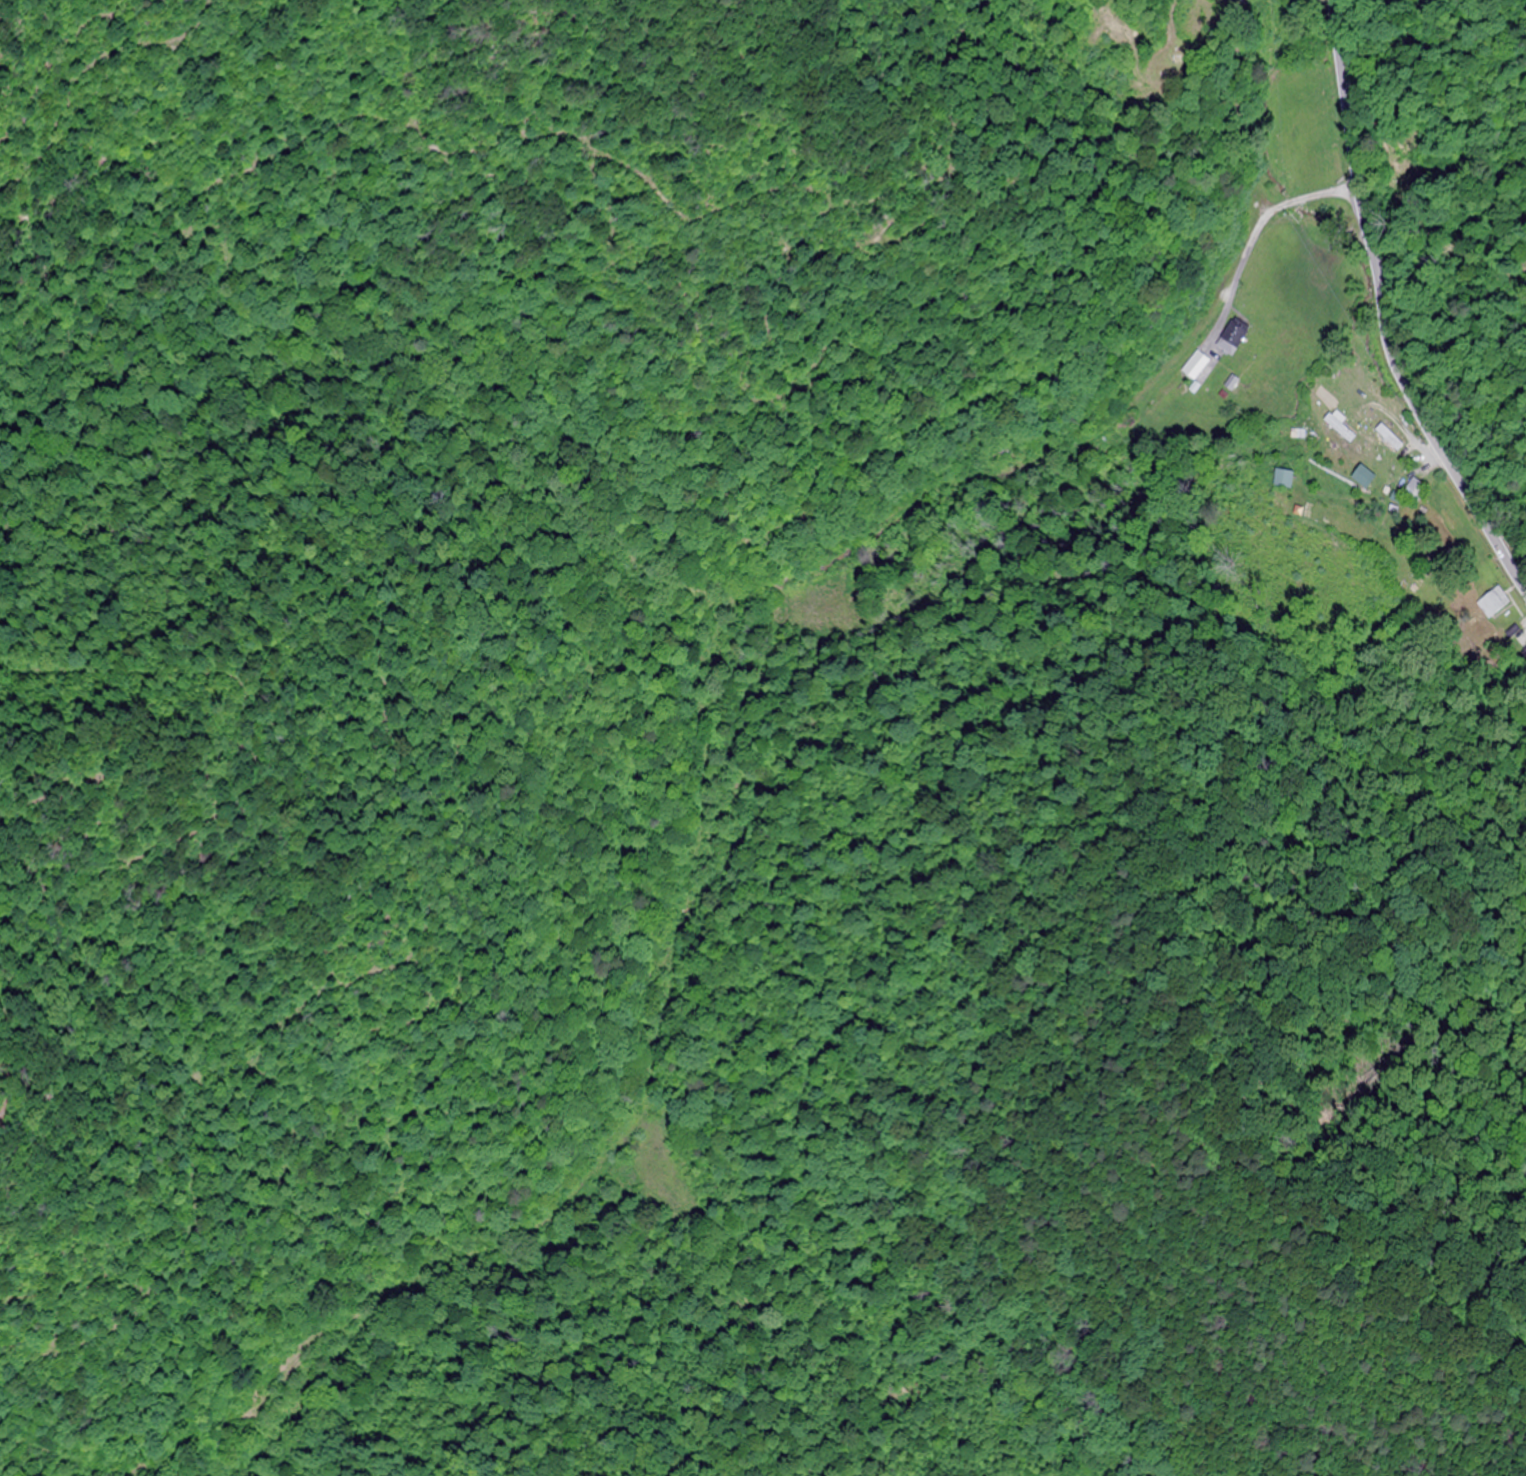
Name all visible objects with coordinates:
road: (1385, 313)
building: (1231, 336)
building: (1196, 363)
building: (1357, 398)
building: (1361, 475)
building: (1281, 477)
building: (1415, 488)
building: (1493, 605)

